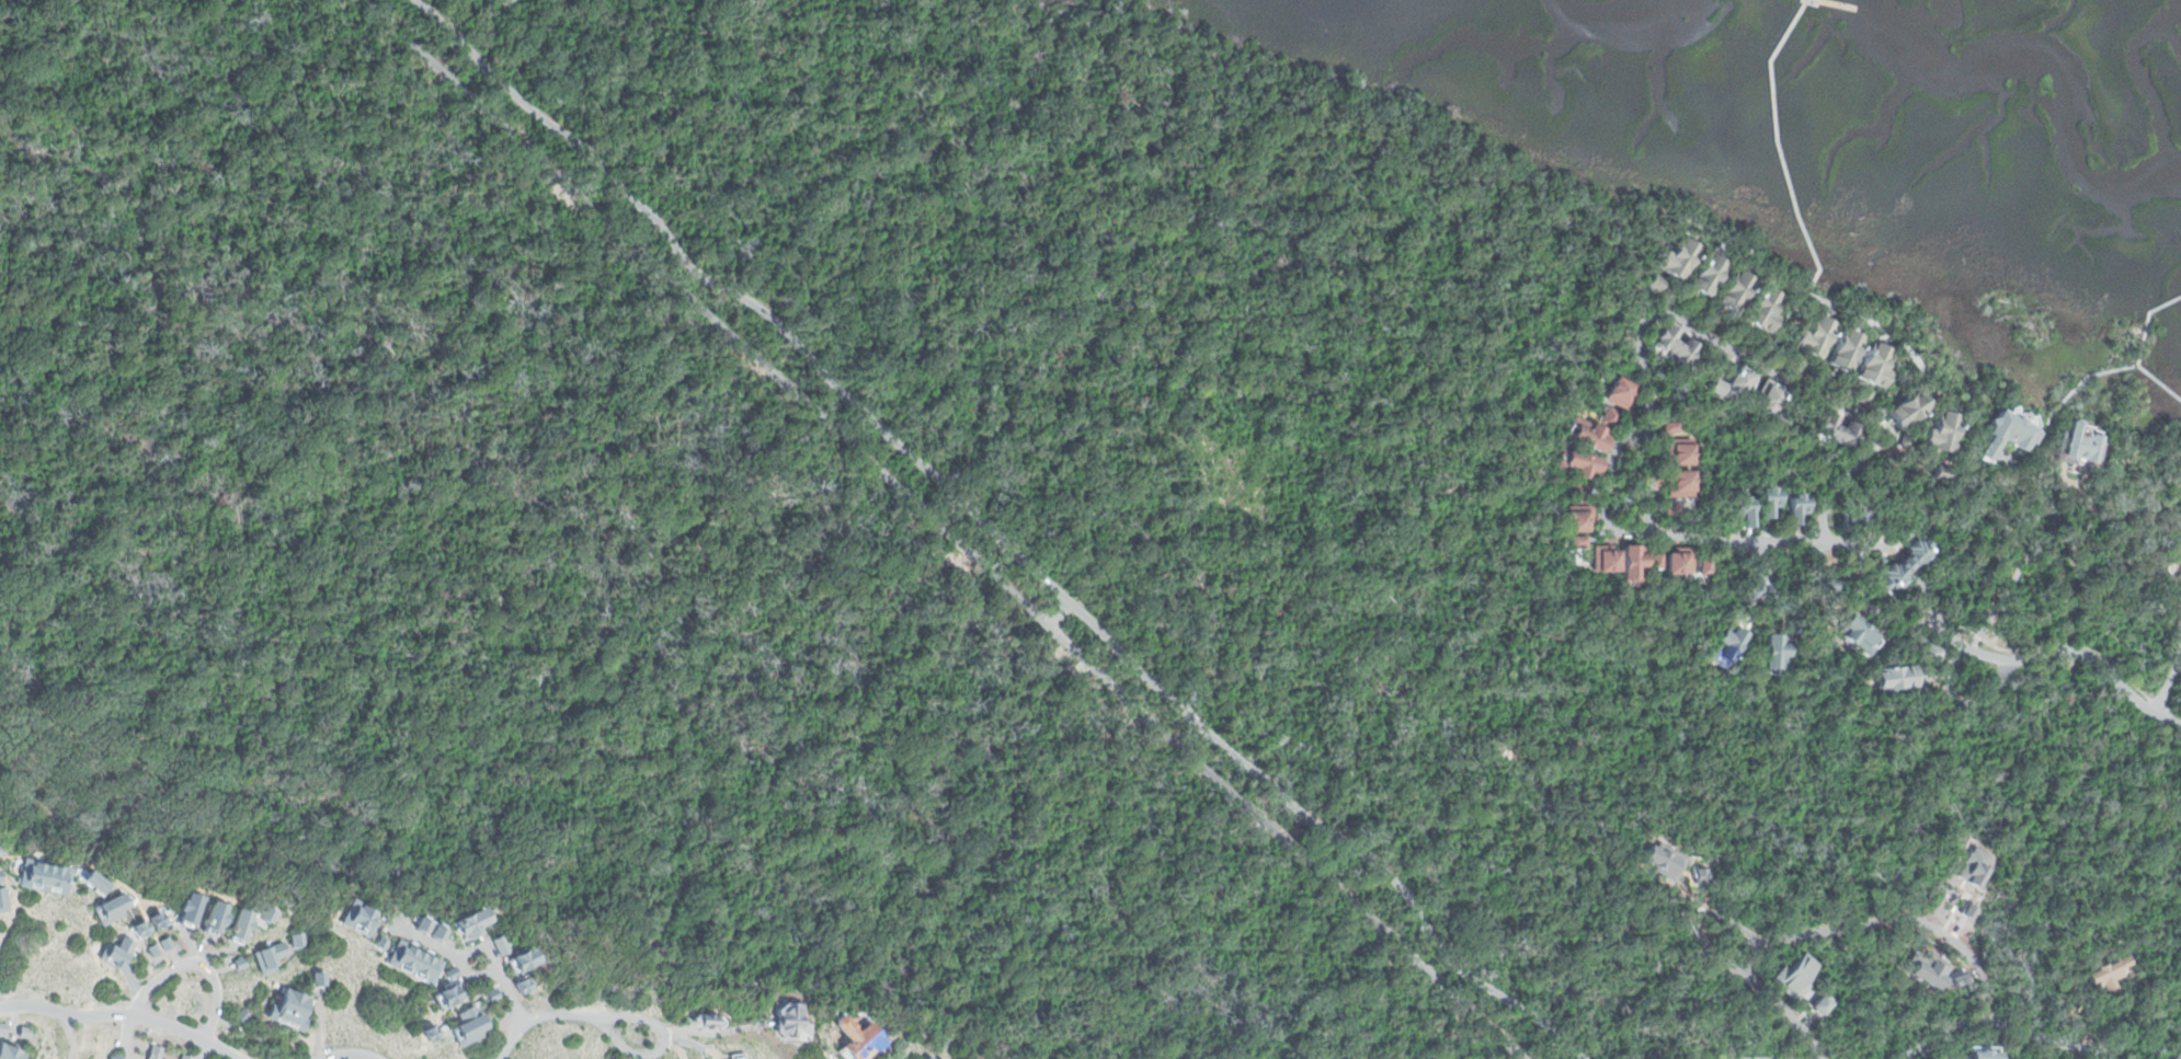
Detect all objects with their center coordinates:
road: (1271, 227)
building: (1676, 257)
building: (1706, 277)
building: (1654, 280)
building: (1731, 293)
building: (1694, 309)
building: (1760, 312)
building: (1812, 338)
road: (1718, 346)
building: (1672, 347)
building: (1842, 352)
building: (1871, 367)
building: (1731, 387)
building: (1619, 394)
building: (1864, 398)
building: (1768, 406)
building: (1906, 411)
building: (1608, 419)
building: (1667, 428)
building: (1941, 433)
building: (1836, 434)
building: (2007, 435)
building: (1586, 438)
building: (2077, 447)
building: (1678, 453)
building: (1575, 468)
building: (1937, 474)
building: (1677, 485)
building: (1767, 503)
building: (1670, 509)
building: (1740, 511)
building: (1794, 511)
building: (1577, 518)
building: (1852, 519)
road: (992, 526)
road: (947, 528)
building: (1900, 534)
building: (1575, 542)
road: (1871, 548)
building: (1603, 560)
building: (1905, 560)
building: (1655, 563)
building: (1632, 564)
building: (1677, 564)
building: (1702, 566)
building: (1826, 584)
building: (1754, 589)
building: (1855, 637)
road: (602, 640)
road: (1071, 645)
building: (1726, 646)
building: (1773, 655)
building: (1930, 656)
road: (2169, 679)
building: (1893, 681)
building: (39, 879)
building: (89, 885)
building: (3, 900)
building: (107, 910)
building: (186, 910)
building: (263, 916)
road: (1888, 917)
building: (210, 921)
building: (355, 921)
building: (152, 922)
building: (466, 925)
building: (416, 926)
building: (237, 928)
building: (134, 931)
building: (435, 932)
building: (296, 942)
building: (165, 944)
building: (376, 944)
building: (496, 946)
building: (151, 949)
building: (113, 955)
building: (266, 957)
road: (460, 958)
building: (521, 962)
road: (184, 964)
building: (241, 964)
building: (411, 964)
road: (1726, 964)
building: (447, 974)
building: (2106, 976)
building: (1796, 977)
building: (316, 980)
building: (524, 985)
building: (489, 995)
road: (510, 995)
building: (441, 998)
building: (1822, 1003)
building: (287, 1013)
road: (122, 1015)
road: (543, 1018)
road: (2001, 1022)
building: (698, 1024)
building: (786, 1024)
building: (467, 1026)
building: (2, 1029)
building: (23, 1034)
building: (423, 1036)
building: (850, 1040)
road: (656, 1046)
building: (151, 1051)
building: (1980, 1051)
building: (8, 1052)
road: (350, 1055)
building: (183, 1056)
building: (2174, 1056)
building: (112, 1057)
building: (165, 1058)
building: (921, 1058)

